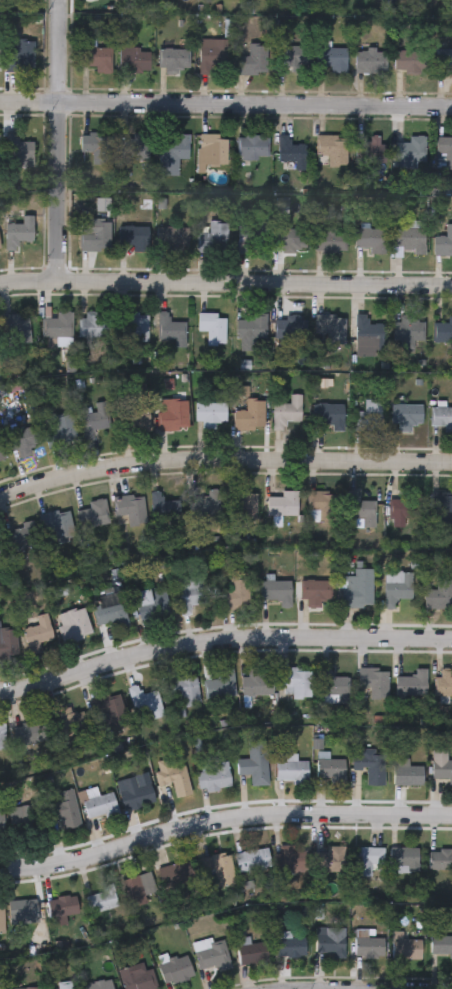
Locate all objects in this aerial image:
building: (19, 54)
building: (213, 57)
building: (133, 59)
building: (98, 60)
building: (293, 60)
building: (332, 60)
building: (0, 61)
building: (174, 61)
building: (254, 62)
building: (371, 62)
building: (410, 62)
building: (443, 62)
road: (225, 107)
road: (57, 140)
building: (252, 148)
building: (97, 149)
building: (134, 149)
building: (333, 151)
building: (372, 151)
building: (412, 151)
building: (212, 152)
building: (18, 153)
building: (444, 153)
building: (292, 154)
building: (175, 156)
building: (18, 234)
building: (96, 238)
building: (134, 238)
building: (212, 238)
building: (249, 238)
building: (172, 239)
building: (292, 240)
building: (330, 242)
building: (370, 243)
building: (410, 243)
building: (443, 245)
building: (0, 251)
road: (225, 287)
building: (58, 326)
building: (96, 326)
building: (136, 328)
building: (213, 328)
building: (289, 328)
building: (251, 329)
building: (331, 330)
building: (17, 331)
building: (172, 331)
building: (409, 331)
building: (443, 333)
building: (368, 335)
building: (211, 413)
building: (287, 413)
building: (174, 415)
building: (251, 416)
building: (329, 416)
building: (406, 417)
building: (368, 418)
building: (442, 418)
building: (136, 419)
building: (94, 421)
building: (61, 432)
building: (24, 441)
building: (2, 456)
road: (224, 458)
building: (283, 505)
building: (210, 506)
building: (243, 507)
building: (406, 507)
building: (443, 507)
building: (129, 508)
building: (321, 508)
building: (164, 509)
building: (361, 510)
building: (94, 516)
building: (56, 526)
building: (25, 538)
building: (0, 552)
building: (397, 589)
building: (358, 590)
building: (277, 593)
building: (192, 594)
building: (316, 594)
building: (234, 596)
building: (440, 596)
building: (152, 605)
building: (110, 611)
building: (75, 627)
building: (39, 634)
road: (222, 638)
building: (9, 641)
building: (297, 684)
building: (373, 684)
building: (443, 684)
building: (258, 685)
building: (413, 685)
building: (333, 686)
building: (221, 687)
building: (184, 689)
building: (145, 702)
building: (108, 711)
building: (69, 723)
building: (30, 733)
building: (2, 736)
building: (256, 764)
building: (442, 766)
building: (370, 767)
building: (292, 770)
building: (332, 771)
building: (407, 775)
building: (215, 778)
building: (175, 781)
building: (136, 795)
building: (100, 806)
building: (68, 811)
building: (26, 820)
road: (222, 820)
building: (1, 821)
building: (403, 858)
building: (288, 860)
building: (440, 860)
building: (251, 861)
building: (328, 861)
building: (364, 861)
building: (216, 865)
building: (175, 876)
building: (140, 889)
building: (100, 901)
building: (61, 907)
building: (21, 911)
building: (0, 918)
building: (330, 942)
building: (366, 945)
building: (441, 946)
building: (405, 947)
building: (290, 948)
building: (251, 953)
building: (210, 955)
building: (174, 970)
building: (136, 979)
building: (99, 985)
building: (60, 987)
building: (0, 988)
building: (1, 988)
building: (31, 988)

